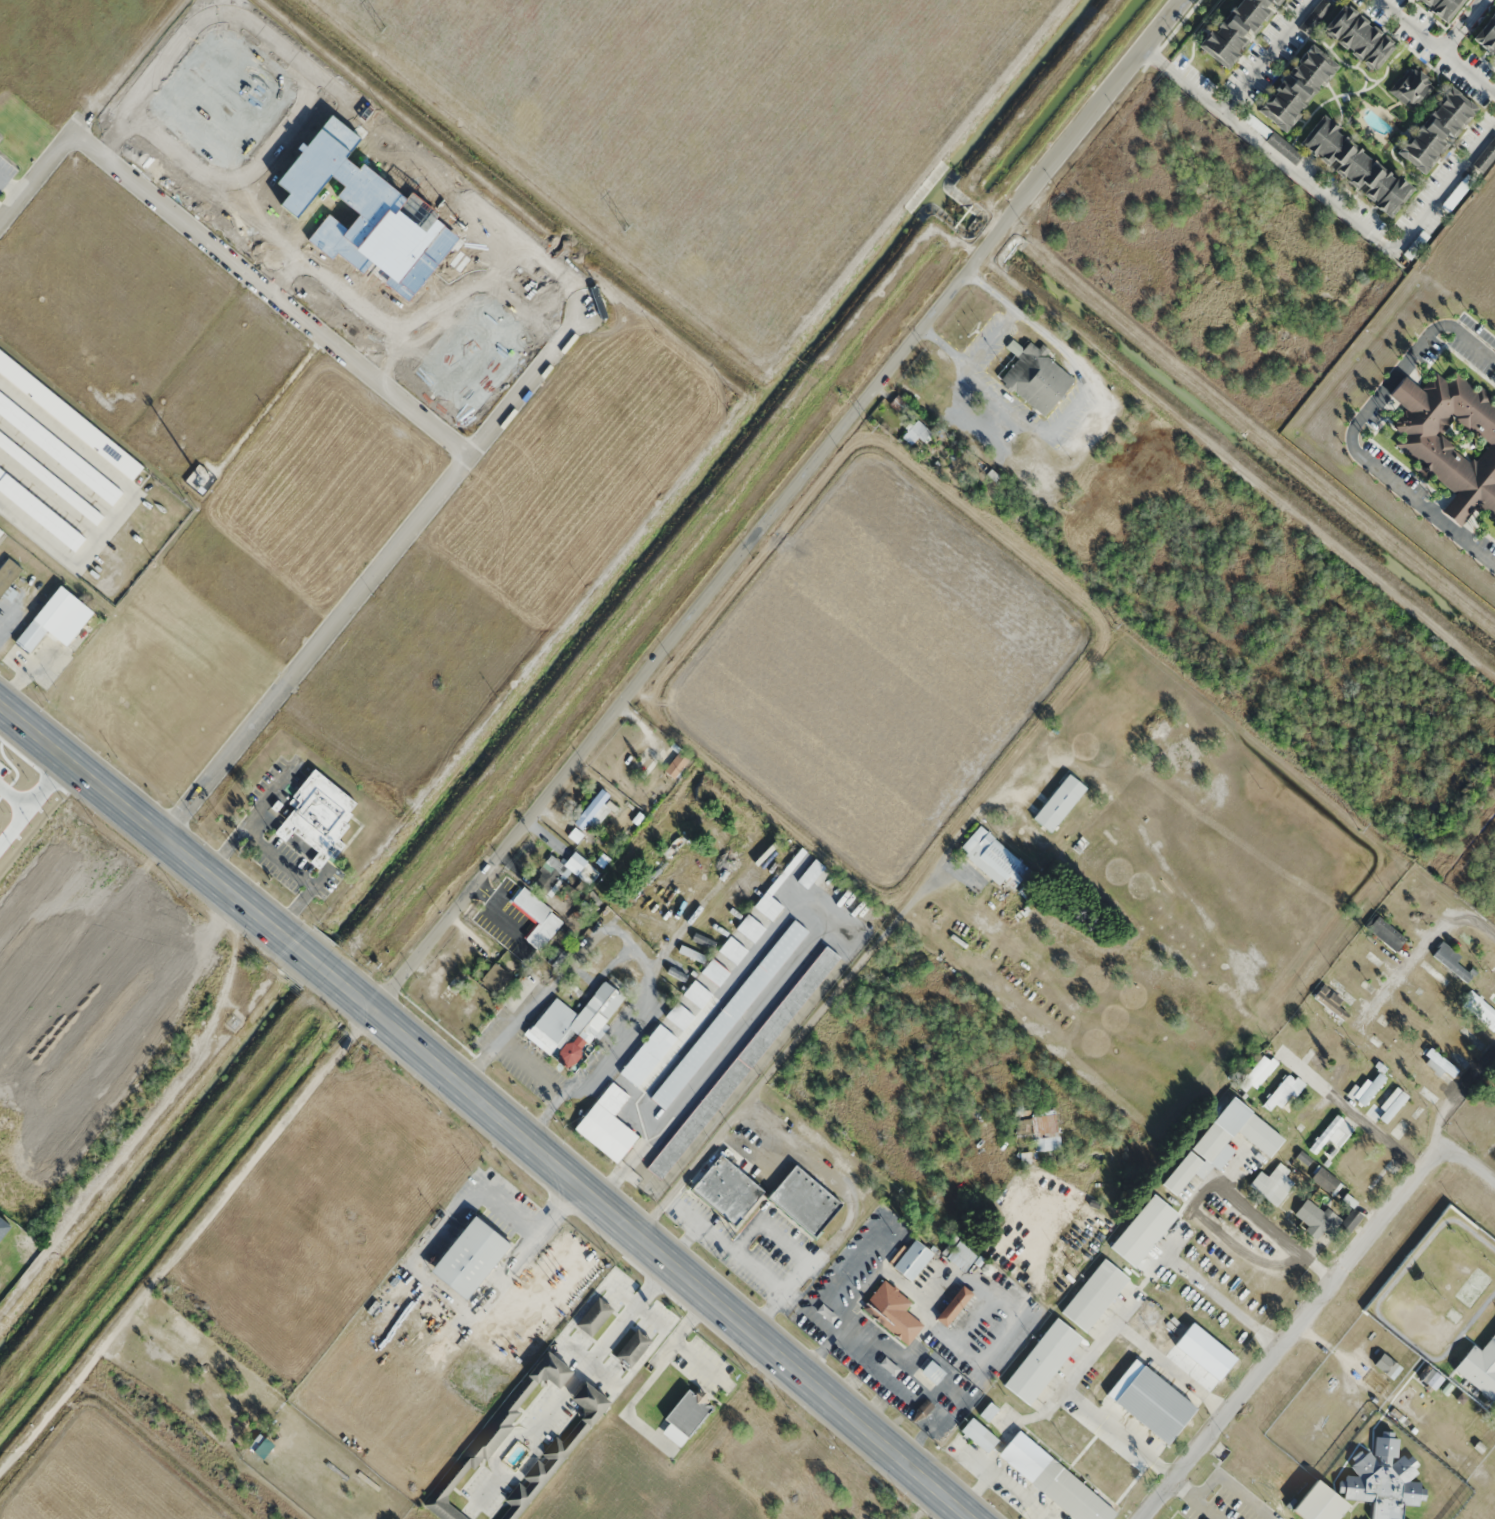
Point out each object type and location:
building: (1440, 7)
power tower: (383, 28)
building: (1234, 29)
building: (1486, 35)
building: (1357, 37)
building: (1295, 87)
building: (1410, 88)
crop: (717, 121)
building: (1434, 129)
building: (1485, 156)
building: (1353, 166)
road: (41, 169)
power tower: (627, 227)
road: (269, 295)
building: (1035, 377)
building: (897, 403)
building: (70, 417)
power tower: (874, 427)
building: (916, 433)
building: (1449, 441)
building: (59, 450)
building: (50, 479)
road: (776, 504)
building: (40, 511)
building: (1, 533)
building: (7, 571)
road: (374, 575)
building: (57, 618)
power tower: (1115, 625)
road: (555, 724)
building: (676, 764)
building: (1058, 803)
building: (594, 811)
building: (317, 818)
road: (146, 827)
power tower: (1362, 827)
building: (575, 834)
building: (994, 860)
building: (578, 863)
building: (548, 873)
building: (769, 905)
building: (751, 927)
building: (1384, 932)
building: (733, 949)
road: (1417, 950)
building: (1371, 952)
building: (692, 953)
building: (1451, 961)
road: (321, 966)
building: (1493, 970)
building: (715, 971)
building: (495, 977)
building: (1436, 981)
building: (520, 991)
building: (697, 993)
building: (1327, 1007)
building: (1483, 1012)
building: (680, 1016)
road: (1256, 1017)
building: (573, 1023)
building: (1453, 1049)
building: (648, 1054)
building: (1372, 1054)
building: (742, 1063)
building: (1445, 1072)
building: (1257, 1075)
building: (1425, 1086)
building: (1364, 1091)
building: (1281, 1094)
road: (1455, 1101)
building: (1388, 1106)
building: (1489, 1113)
building: (608, 1123)
building: (1409, 1124)
building: (1044, 1131)
building: (1331, 1135)
building: (1219, 1148)
building: (1378, 1172)
building: (1325, 1181)
building: (1272, 1185)
building: (726, 1191)
building: (802, 1201)
building: (1325, 1221)
road: (1279, 1225)
building: (4, 1227)
building: (1143, 1231)
road: (185, 1238)
road: (657, 1252)
building: (961, 1255)
building: (473, 1256)
building: (911, 1261)
building: (987, 1271)
building: (1093, 1296)
building: (885, 1305)
building: (952, 1306)
road: (1232, 1306)
road: (1311, 1311)
building: (595, 1316)
building: (1364, 1338)
building: (634, 1348)
building: (1382, 1351)
building: (1040, 1362)
building: (1479, 1368)
road: (1180, 1369)
building: (929, 1375)
building: (692, 1410)
building: (497, 1431)
road: (1124, 1435)
building: (556, 1453)
building: (1036, 1472)
building: (1367, 1489)
building: (308, 1499)

